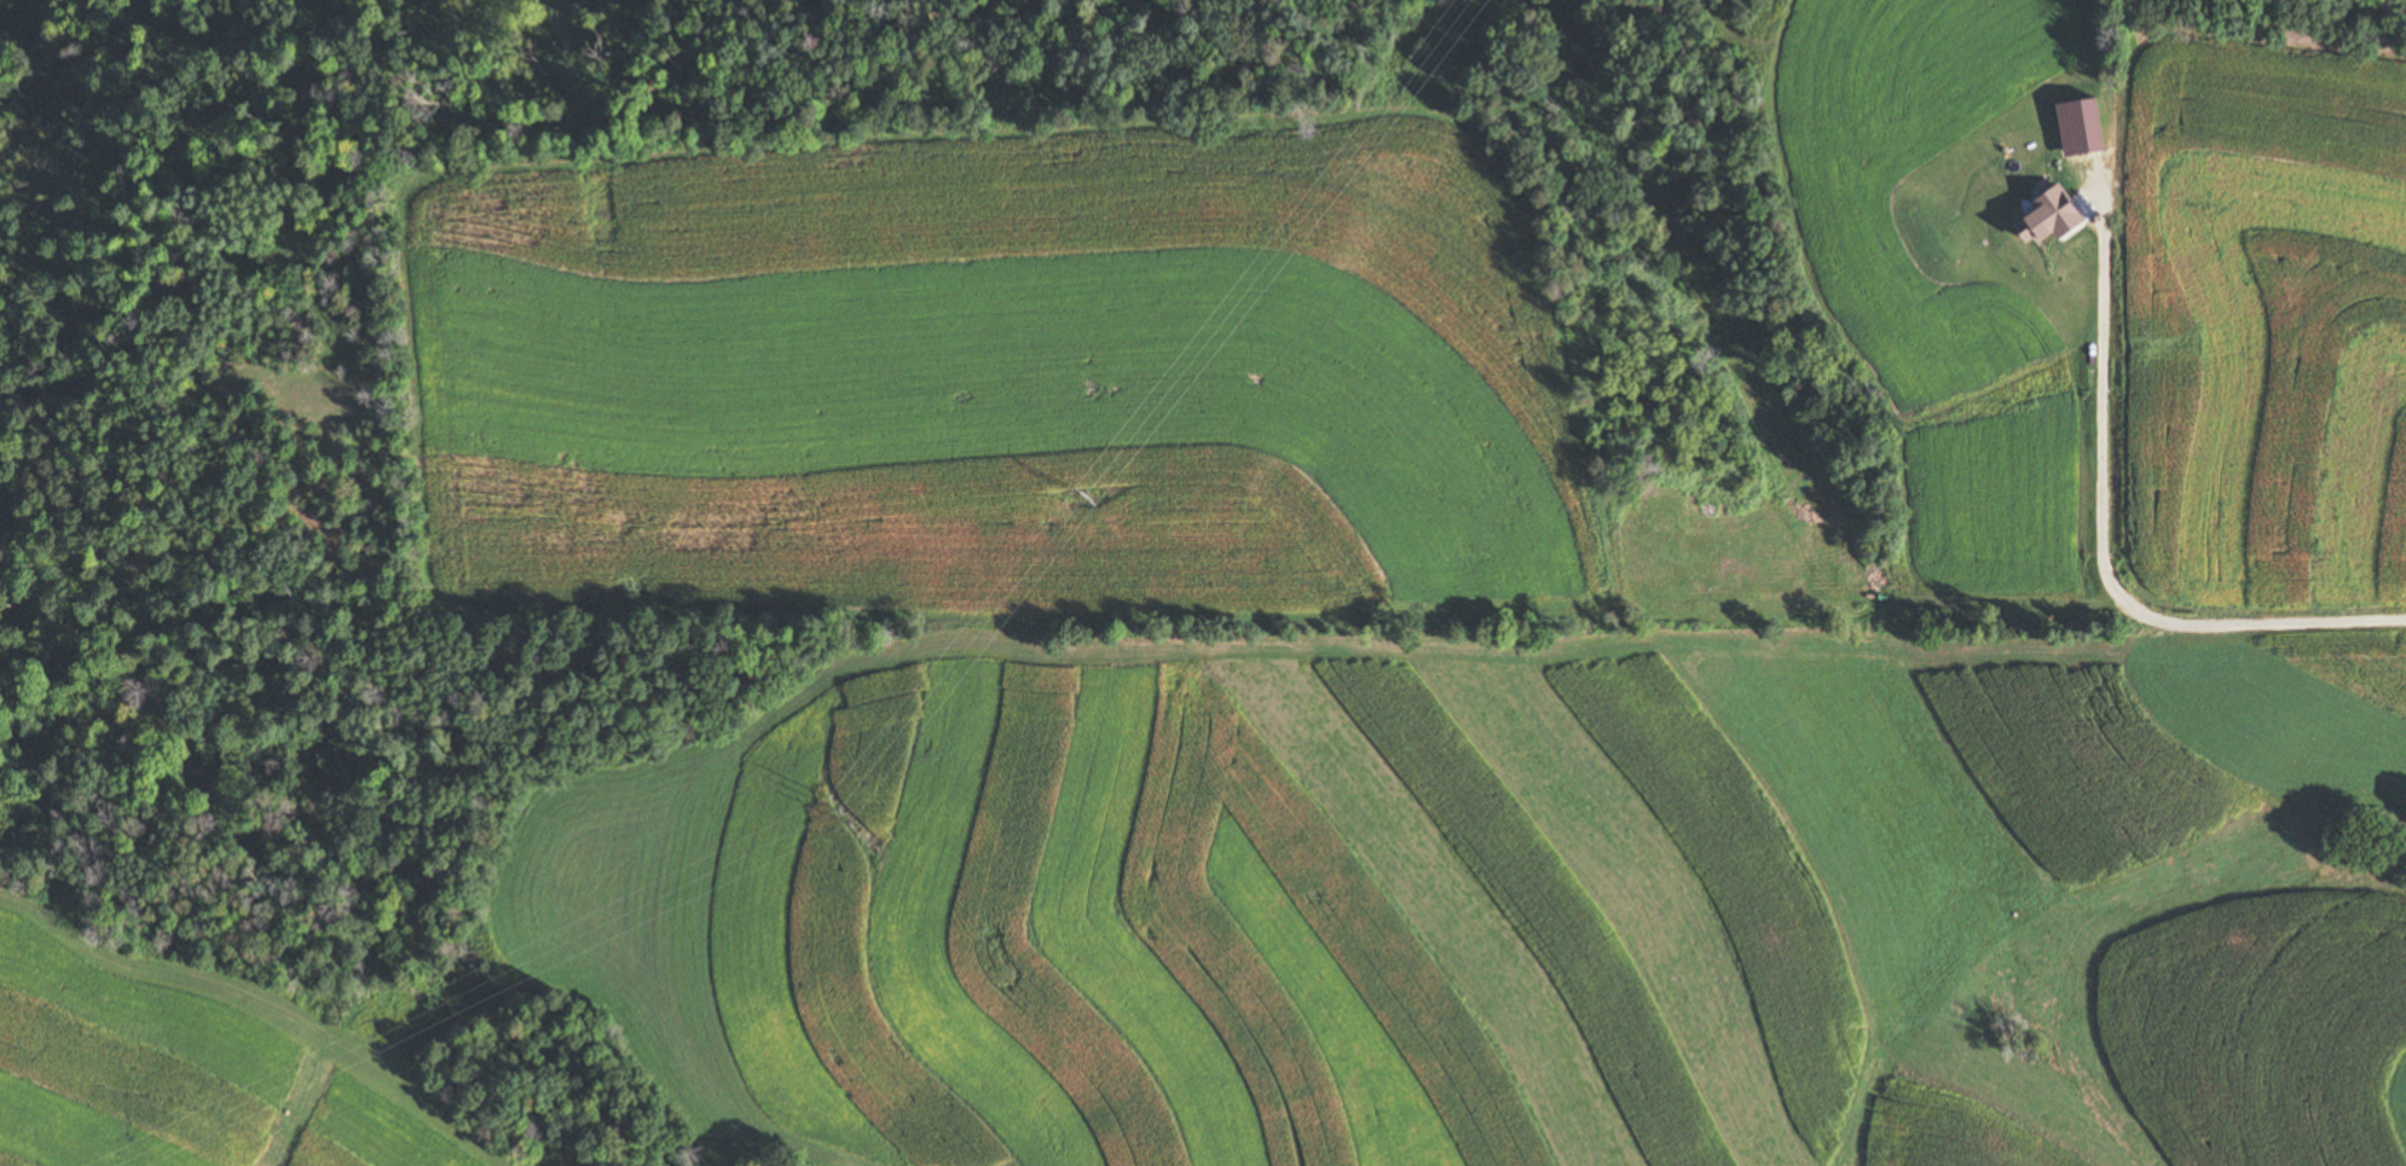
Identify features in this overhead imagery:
crop: (1934, 267)
crop: (2269, 330)
crop: (548, 379)
crop: (1122, 385)
power tower: (1083, 495)
road: (2104, 569)
road: (1399, 732)
power tower: (840, 812)
crop: (1957, 884)
crop: (1104, 932)
crop: (143, 1096)

